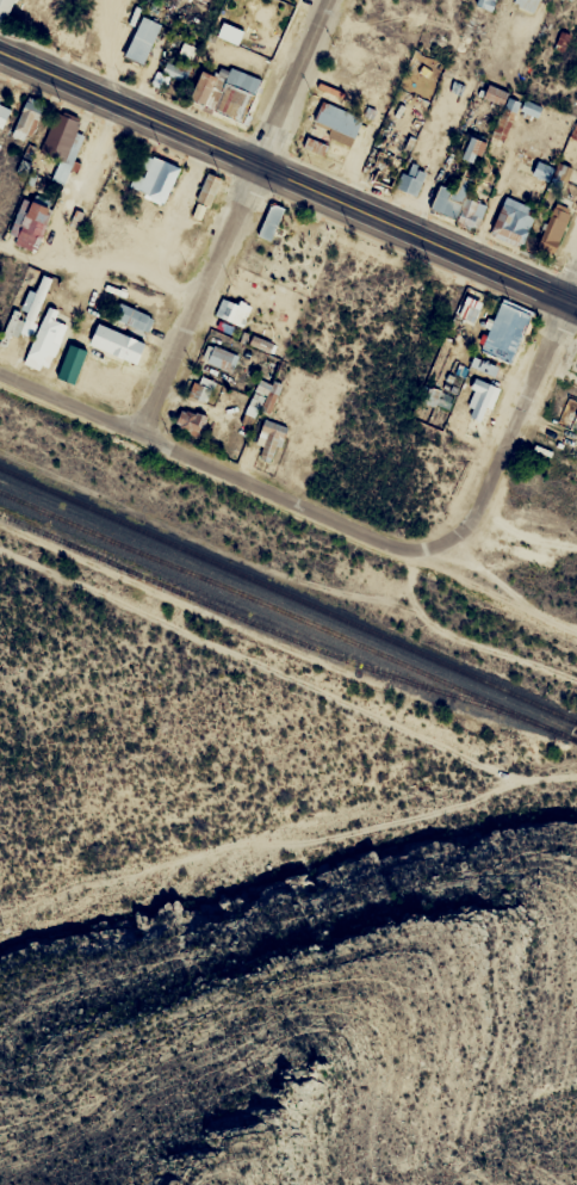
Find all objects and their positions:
building: (567, 0)
building: (485, 4)
building: (527, 4)
building: (2, 5)
building: (134, 39)
building: (379, 50)
building: (366, 79)
building: (219, 92)
building: (495, 94)
building: (529, 109)
building: (4, 111)
building: (27, 119)
building: (327, 123)
building: (61, 131)
building: (315, 144)
building: (110, 147)
building: (473, 149)
building: (148, 178)
building: (414, 179)
road: (76, 181)
road: (286, 184)
building: (207, 189)
building: (200, 190)
building: (455, 205)
road: (173, 208)
road: (235, 216)
building: (32, 220)
building: (271, 221)
building: (511, 221)
building: (262, 222)
building: (554, 227)
road: (104, 263)
building: (38, 297)
building: (231, 311)
building: (134, 316)
building: (498, 331)
building: (44, 339)
building: (221, 358)
building: (201, 388)
building: (472, 395)
building: (188, 421)
road: (517, 424)
building: (269, 439)
building: (556, 442)
road: (216, 467)
railway: (287, 592)
railway: (284, 612)
railway: (576, 720)
railway: (572, 736)

